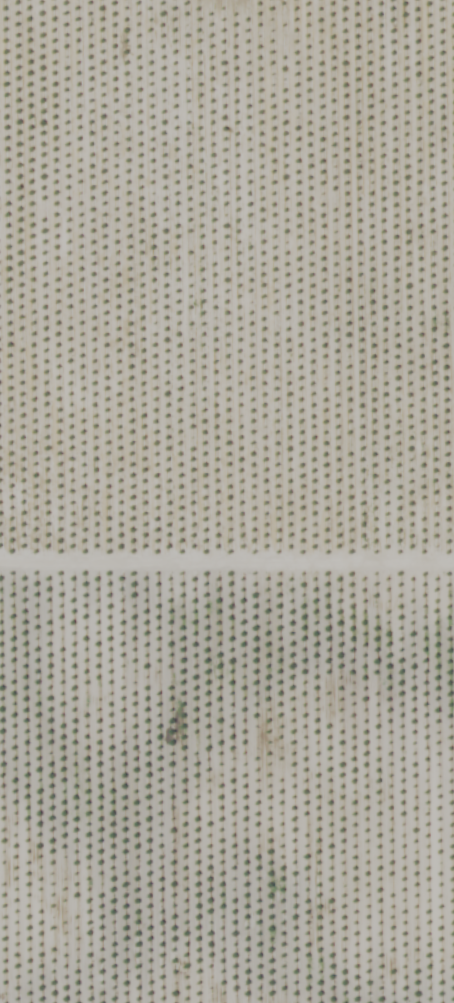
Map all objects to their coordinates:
crop: (239, 496)

